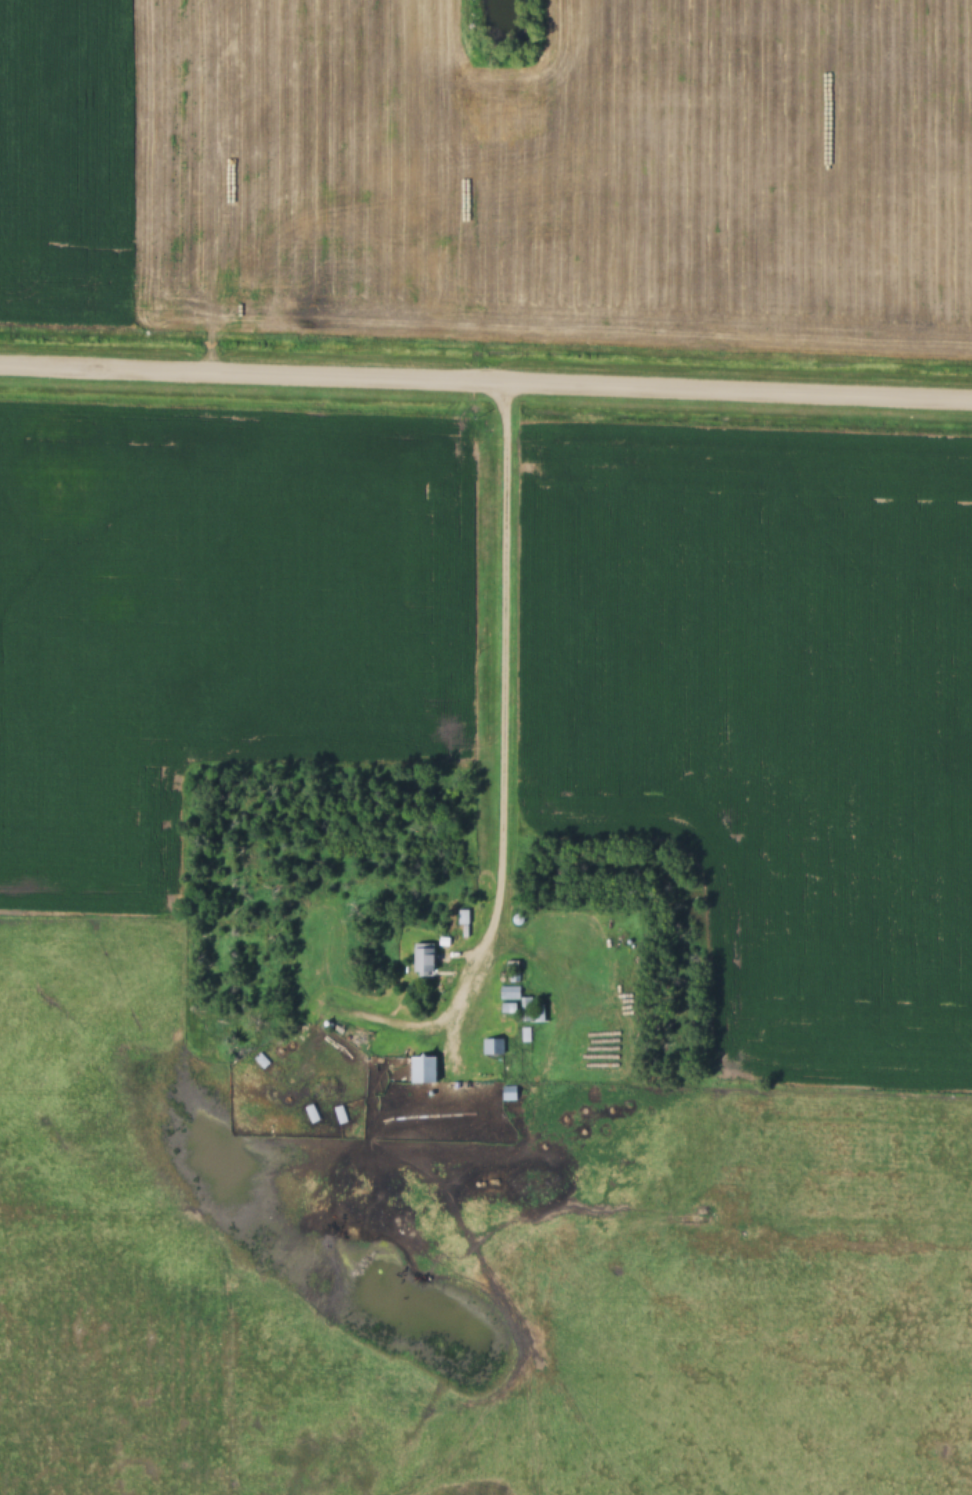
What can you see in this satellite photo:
road: (486, 386)
building: (464, 915)
building: (423, 960)
building: (509, 993)
building: (508, 1005)
building: (534, 1009)
building: (493, 1047)
building: (509, 1093)

